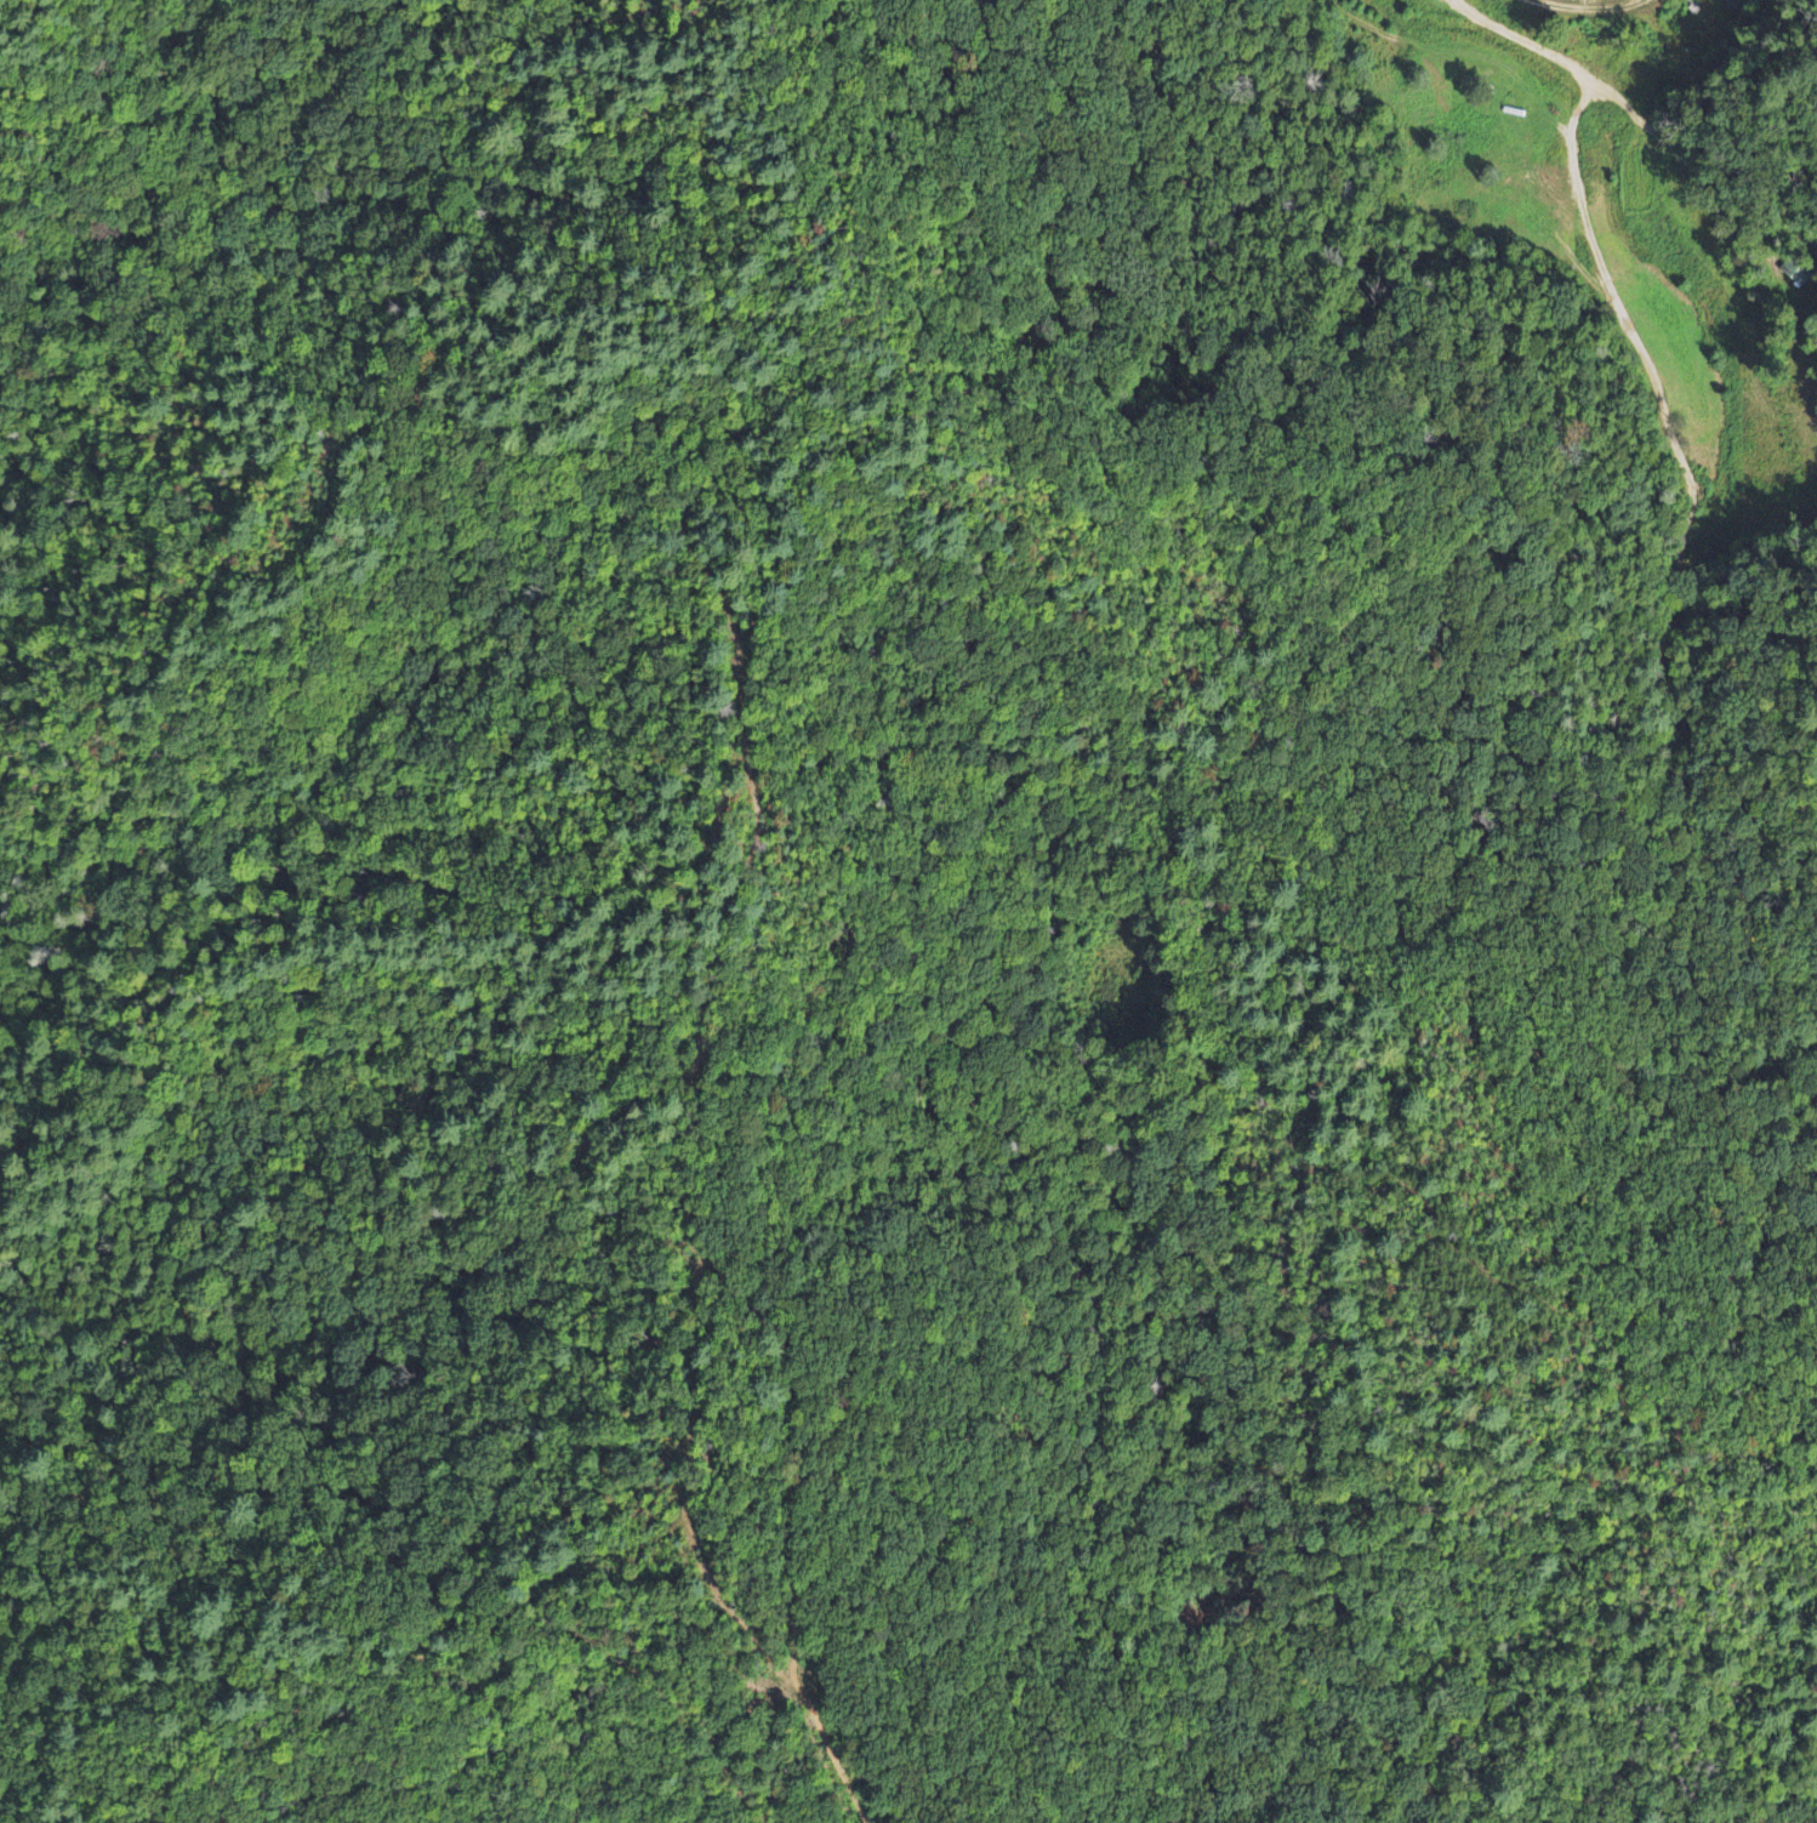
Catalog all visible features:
road: (1744, 542)

